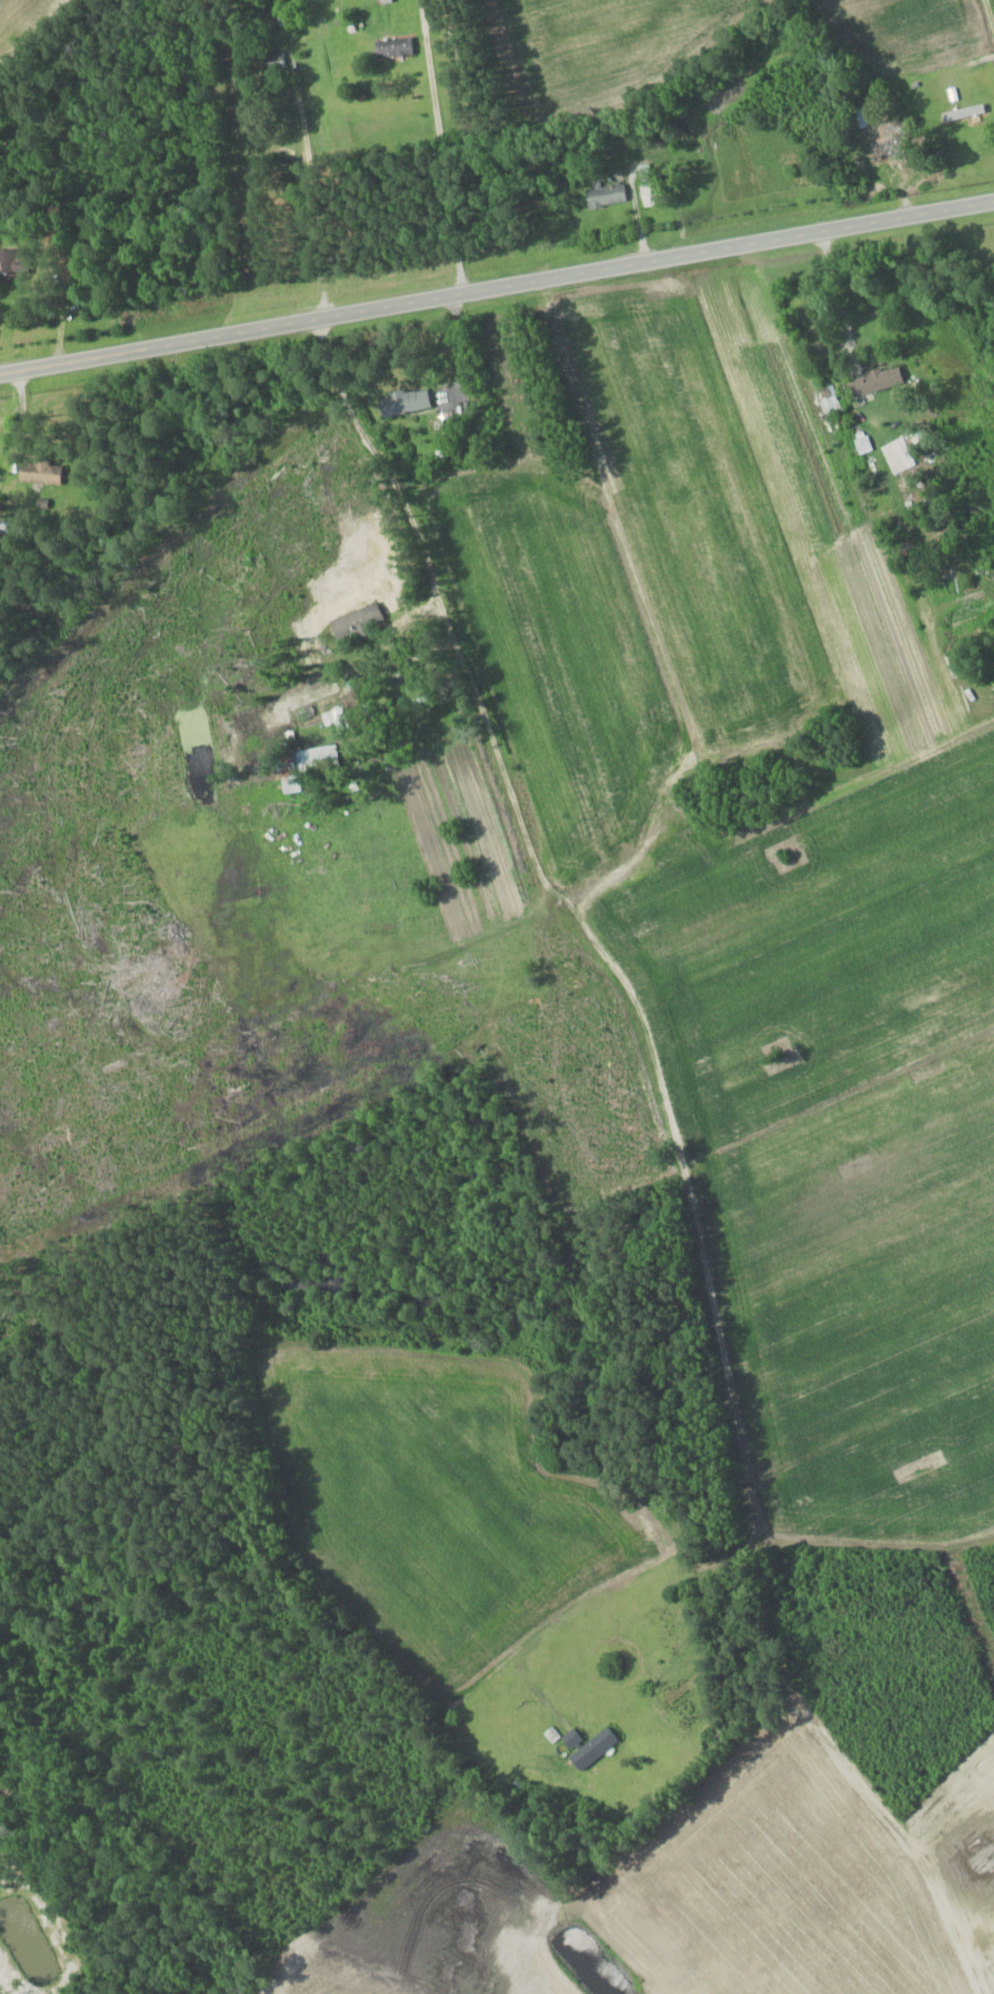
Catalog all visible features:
building: (383, 1)
building: (393, 47)
building: (272, 62)
building: (884, 145)
road: (446, 177)
building: (653, 193)
building: (605, 195)
building: (13, 261)
road: (497, 287)
building: (873, 380)
building: (828, 392)
building: (402, 401)
building: (898, 455)
building: (39, 472)
building: (355, 621)
building: (315, 759)
building: (672, 1690)
building: (571, 1738)
building: (592, 1748)

